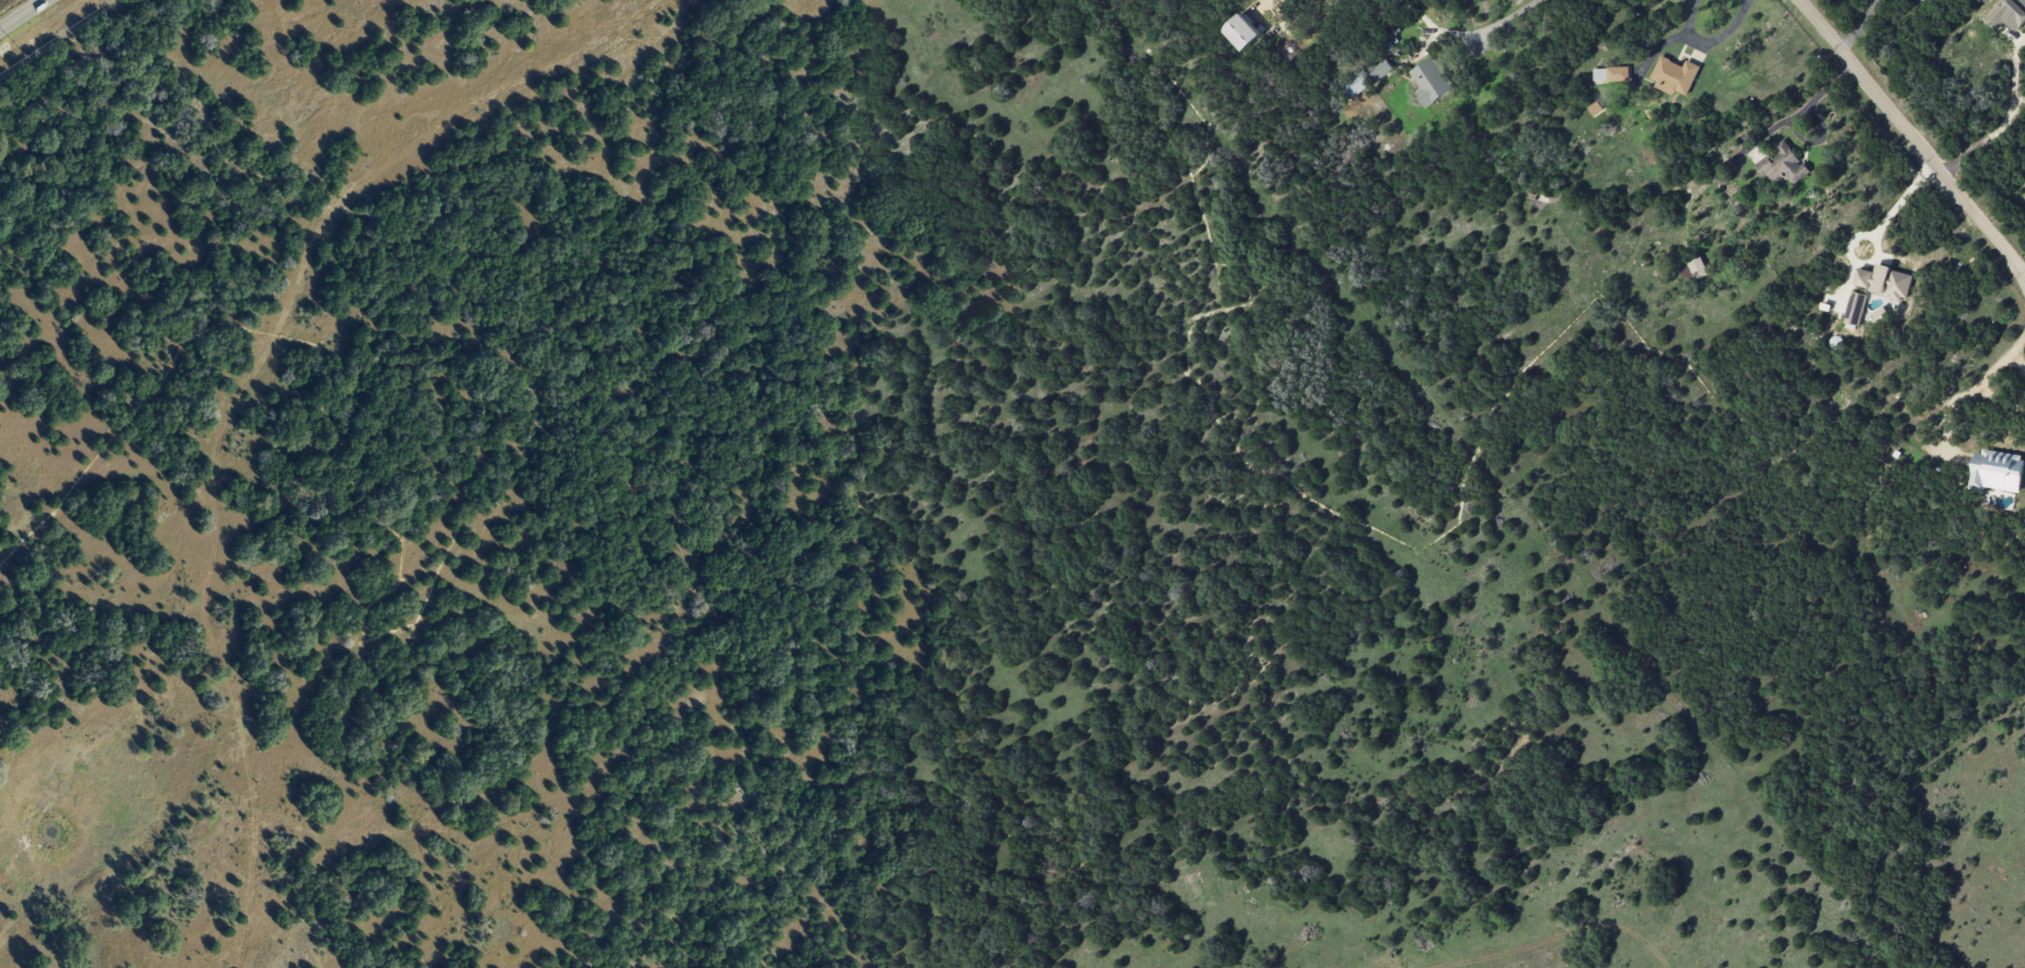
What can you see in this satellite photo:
road: (1262, 6)
road: (22, 14)
building: (2008, 14)
road: (1505, 17)
road: (1859, 26)
building: (1242, 32)
road: (1722, 35)
road: (1669, 38)
building: (1381, 67)
building: (1611, 74)
building: (1674, 75)
building: (1431, 81)
building: (1356, 85)
building: (1595, 108)
road: (1791, 116)
road: (2007, 120)
road: (1912, 138)
building: (1782, 165)
building: (1693, 270)
road: (2024, 274)
building: (1883, 281)
road: (1966, 394)
building: (1997, 470)

